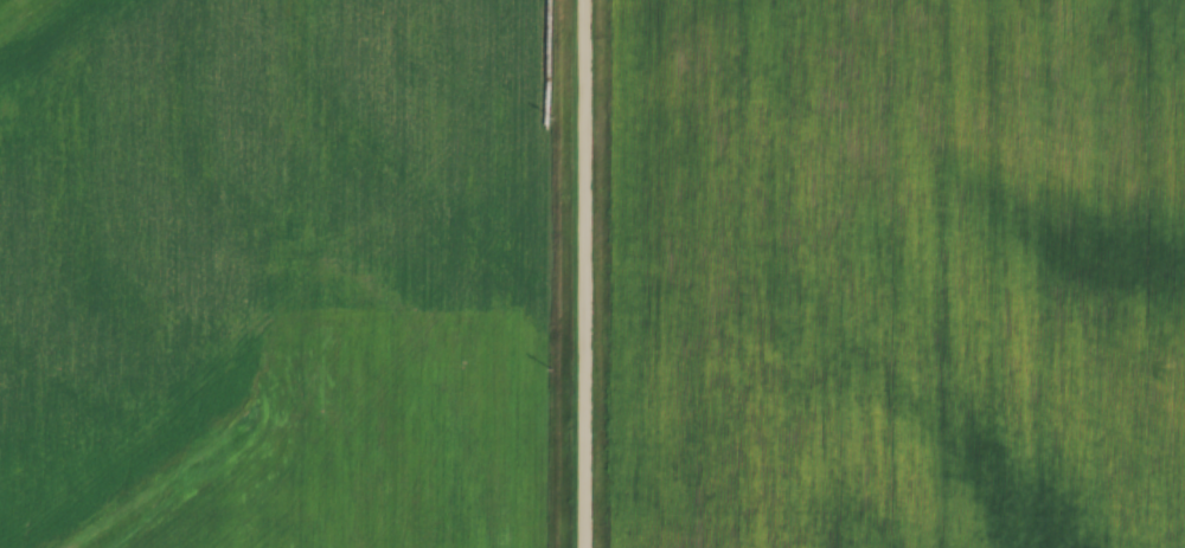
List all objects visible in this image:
road: (588, 273)

